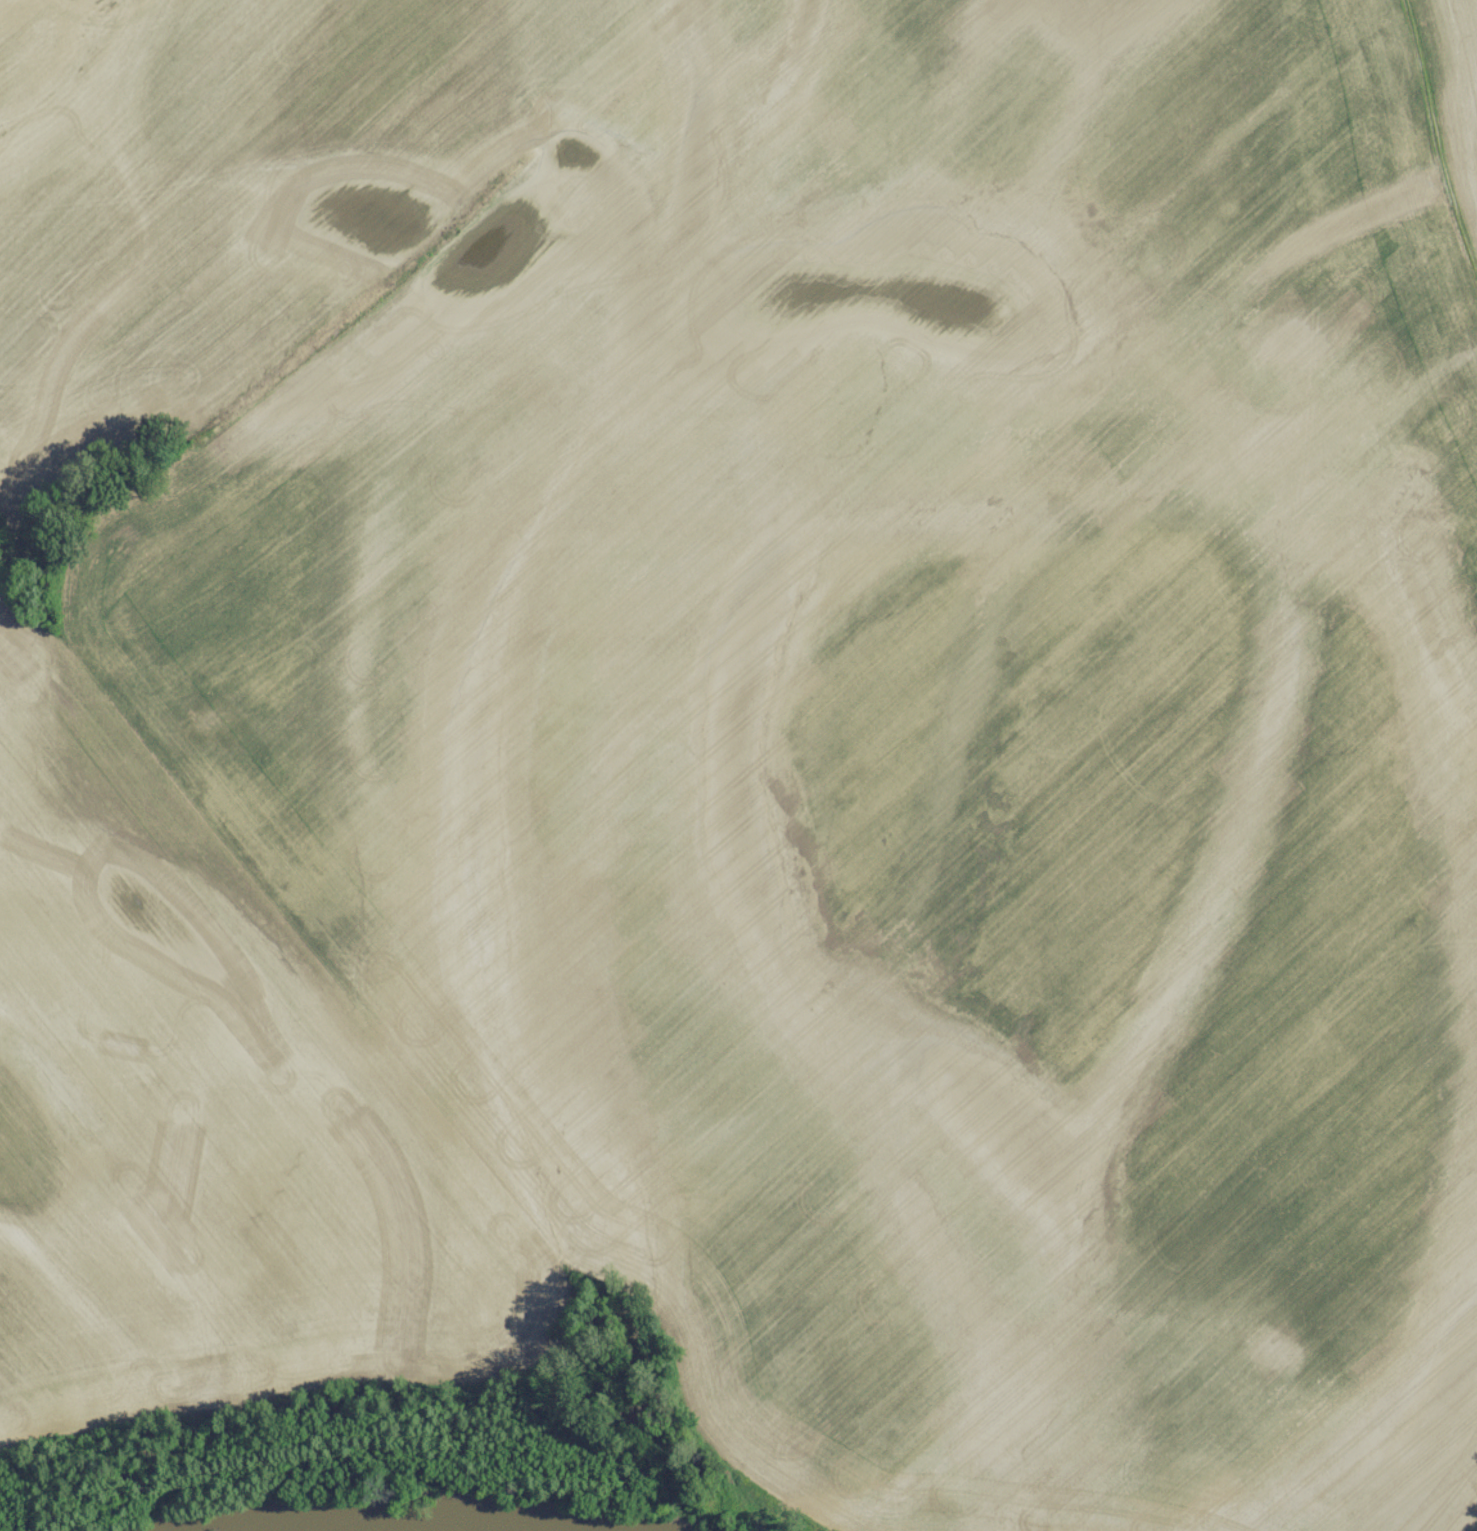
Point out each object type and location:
road: (1433, 143)

